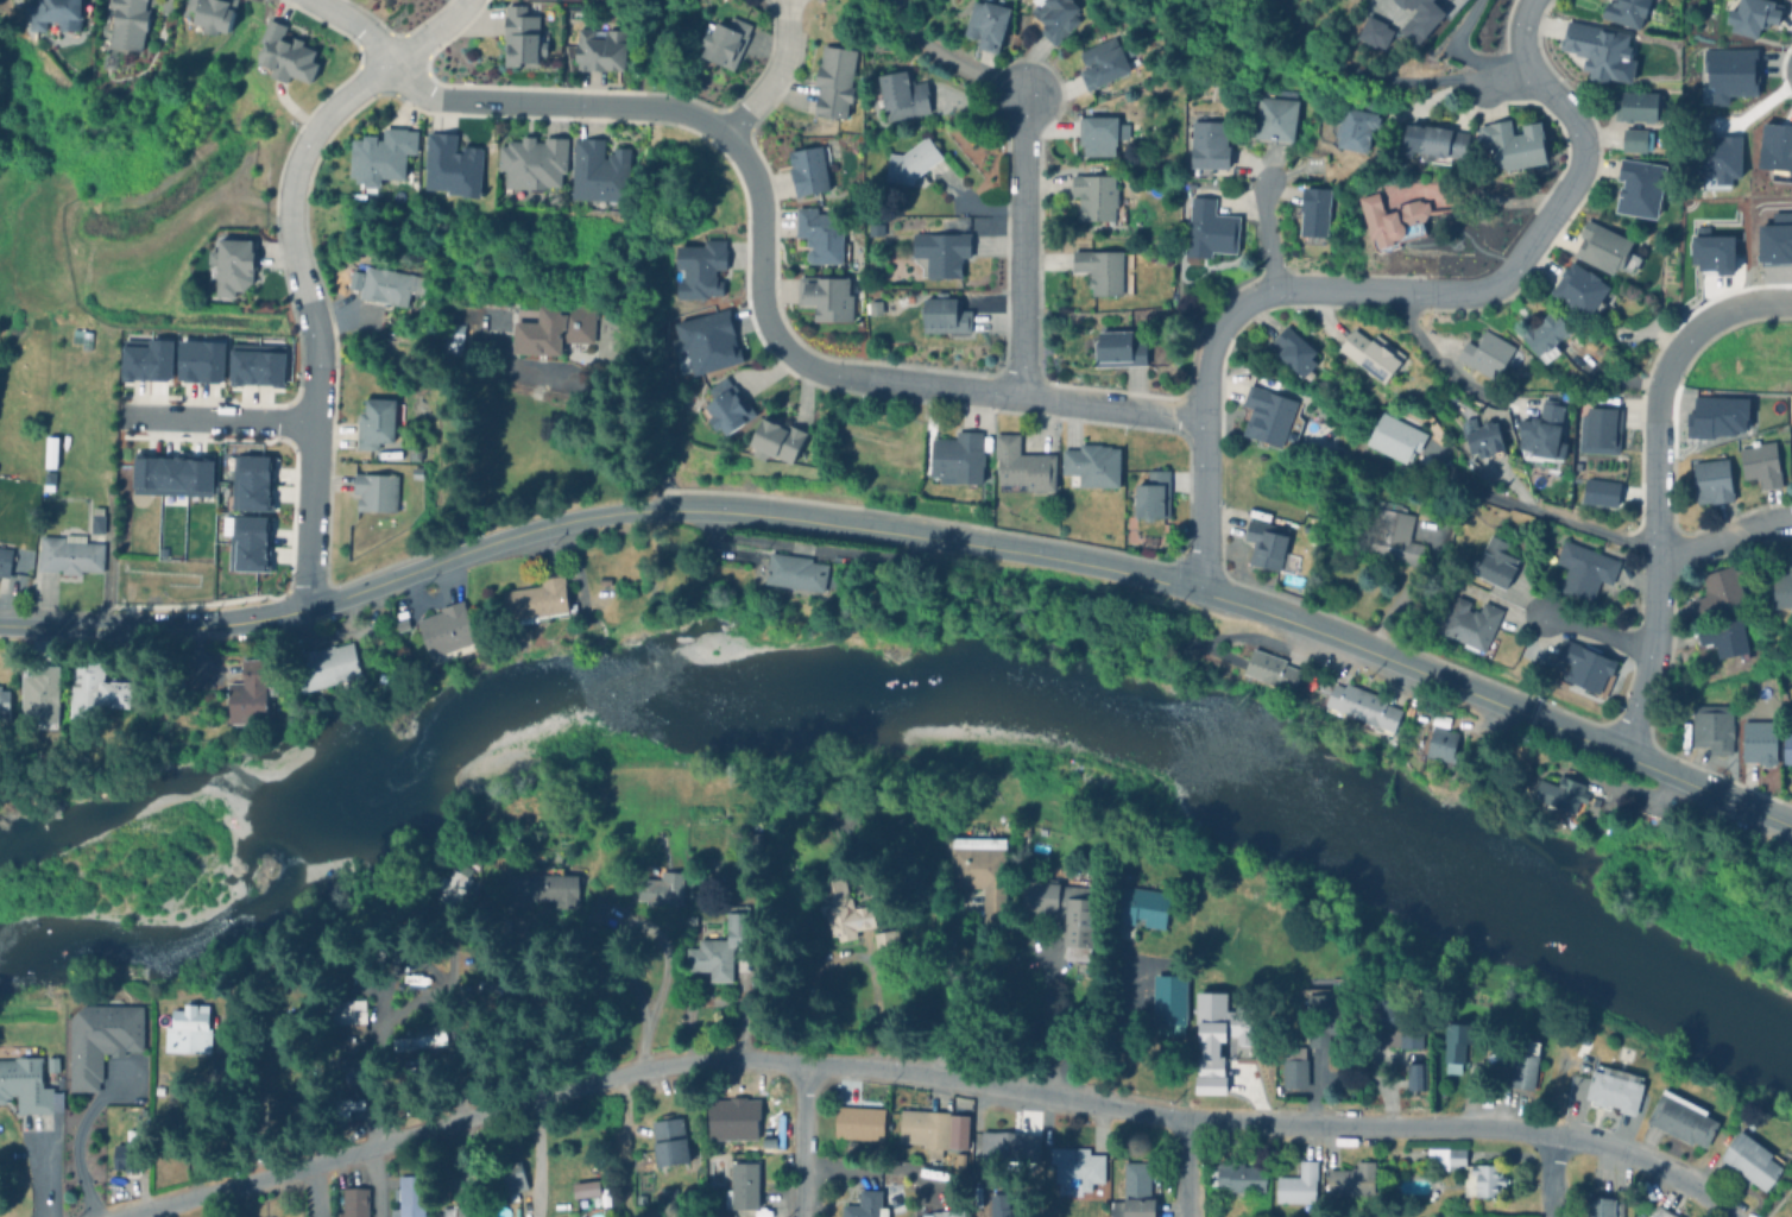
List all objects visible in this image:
building: (1622, 11)
building: (55, 14)
building: (210, 14)
building: (1750, 14)
building: (1053, 18)
building: (1420, 18)
building: (986, 23)
building: (126, 24)
road: (358, 24)
building: (1375, 31)
building: (520, 38)
road: (1520, 40)
building: (725, 42)
road: (1457, 45)
building: (1594, 46)
building: (600, 49)
building: (284, 56)
road: (948, 58)
building: (1102, 64)
road: (1361, 71)
building: (1728, 72)
road: (770, 74)
building: (834, 81)
building: (902, 95)
building: (1634, 103)
building: (1279, 115)
building: (1354, 118)
building: (1098, 134)
building: (1633, 137)
building: (1428, 139)
building: (1512, 140)
building: (1775, 145)
building: (1209, 146)
building: (381, 153)
building: (532, 162)
building: (910, 162)
building: (450, 164)
building: (1314, 165)
building: (809, 169)
building: (599, 171)
building: (1635, 185)
road: (1476, 191)
building: (1096, 197)
building: (1313, 215)
building: (1393, 217)
building: (952, 223)
building: (1211, 228)
building: (875, 229)
building: (819, 235)
road: (1266, 235)
building: (1601, 245)
road: (1022, 246)
building: (1711, 251)
building: (940, 253)
road: (298, 266)
building: (700, 269)
building: (229, 270)
building: (1104, 270)
road: (759, 277)
building: (354, 278)
building: (387, 285)
road: (1364, 290)
building: (1578, 290)
building: (826, 297)
road: (1725, 304)
building: (875, 305)
building: (945, 314)
building: (550, 328)
building: (80, 333)
building: (1542, 335)
building: (450, 339)
building: (707, 340)
building: (1119, 347)
building: (1298, 348)
building: (1484, 352)
building: (1369, 353)
road: (1433, 357)
building: (146, 359)
building: (200, 359)
building: (255, 366)
building: (726, 405)
road: (605, 409)
building: (1272, 416)
road: (219, 418)
building: (376, 423)
building: (1597, 428)
building: (1539, 430)
building: (418, 433)
building: (1392, 434)
building: (1479, 435)
building: (776, 440)
building: (49, 450)
building: (412, 450)
building: (958, 459)
building: (1759, 461)
building: (1021, 465)
building: (1092, 466)
building: (171, 474)
building: (1710, 479)
building: (48, 480)
building: (250, 481)
building: (374, 491)
building: (1599, 491)
building: (1151, 496)
building: (95, 521)
road: (1563, 522)
building: (1389, 529)
road: (1723, 534)
building: (248, 542)
building: (1269, 547)
road: (1653, 551)
building: (68, 554)
building: (1494, 560)
building: (4, 561)
building: (1582, 566)
building: (800, 570)
building: (1780, 586)
building: (1717, 588)
road: (345, 598)
building: (537, 598)
road: (1252, 611)
building: (1469, 622)
road: (1596, 630)
building: (448, 631)
building: (1721, 633)
building: (1584, 663)
building: (324, 664)
building: (141, 669)
building: (1273, 669)
river: (890, 688)
building: (94, 689)
building: (251, 689)
building: (38, 694)
building: (2, 704)
building: (1364, 705)
building: (1710, 724)
building: (1438, 733)
building: (1756, 738)
building: (1786, 744)
building: (1564, 790)
building: (1642, 812)
building: (982, 870)
building: (456, 884)
building: (660, 884)
building: (540, 888)
building: (1041, 897)
building: (1143, 906)
building: (844, 909)
building: (595, 910)
building: (402, 915)
building: (1081, 921)
road: (648, 926)
building: (340, 937)
building: (721, 946)
building: (888, 946)
building: (405, 947)
road: (846, 953)
building: (1169, 1004)
road: (948, 1005)
building: (1326, 1005)
building: (349, 1015)
building: (1388, 1021)
road: (1047, 1027)
building: (188, 1029)
building: (1582, 1033)
building: (228, 1034)
building: (1217, 1036)
building: (100, 1038)
building: (417, 1038)
building: (343, 1042)
building: (1451, 1043)
road: (364, 1057)
building: (1521, 1061)
building: (50, 1064)
building: (424, 1066)
building: (345, 1070)
building: (1295, 1070)
road: (926, 1073)
building: (1413, 1073)
building: (25, 1080)
building: (1610, 1085)
building: (286, 1105)
building: (355, 1108)
building: (1679, 1115)
building: (733, 1121)
building: (858, 1123)
building: (934, 1129)
road: (76, 1137)
road: (799, 1137)
building: (669, 1140)
building: (774, 1143)
road: (621, 1145)
building: (848, 1146)
building: (1010, 1148)
building: (127, 1150)
building: (1443, 1154)
building: (1749, 1156)
road: (534, 1159)
building: (960, 1160)
building: (1077, 1166)
road: (1184, 1169)
building: (512, 1177)
building: (1236, 1177)
building: (1483, 1177)
road: (1547, 1177)
road: (378, 1180)
building: (1352, 1180)
building: (743, 1184)
building: (1298, 1185)
road: (316, 1188)
building: (585, 1188)
building: (667, 1192)
building: (1136, 1192)
building: (409, 1197)
building: (353, 1203)
building: (865, 1205)
building: (1601, 1206)
building: (455, 1211)
building: (713, 1211)
building: (1659, 1211)
building: (952, 1213)
building: (985, 1213)
building: (926, 1215)

